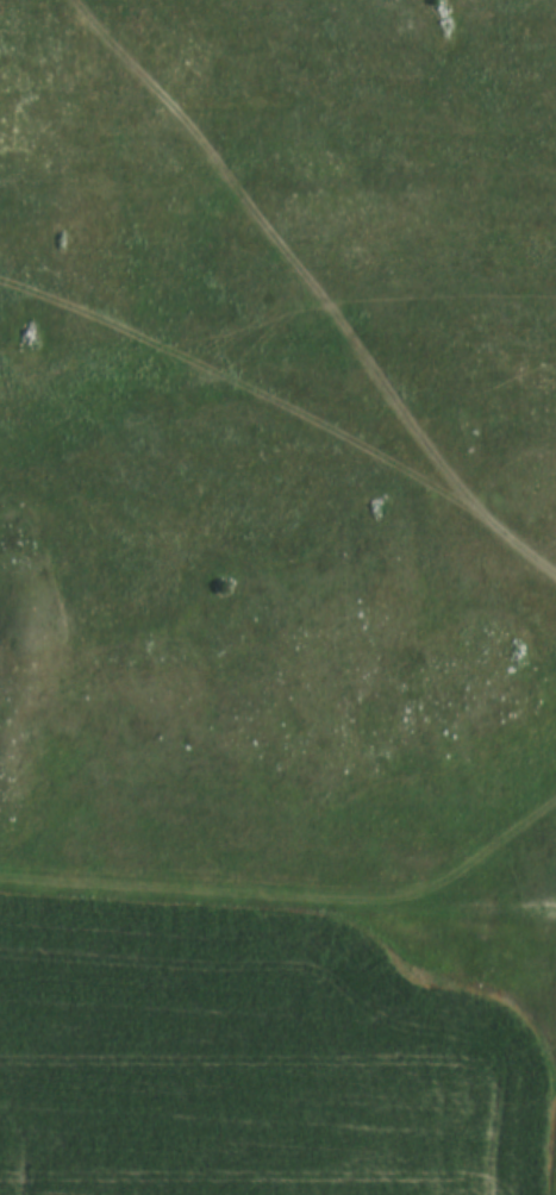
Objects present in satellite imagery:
road: (277, 900)

